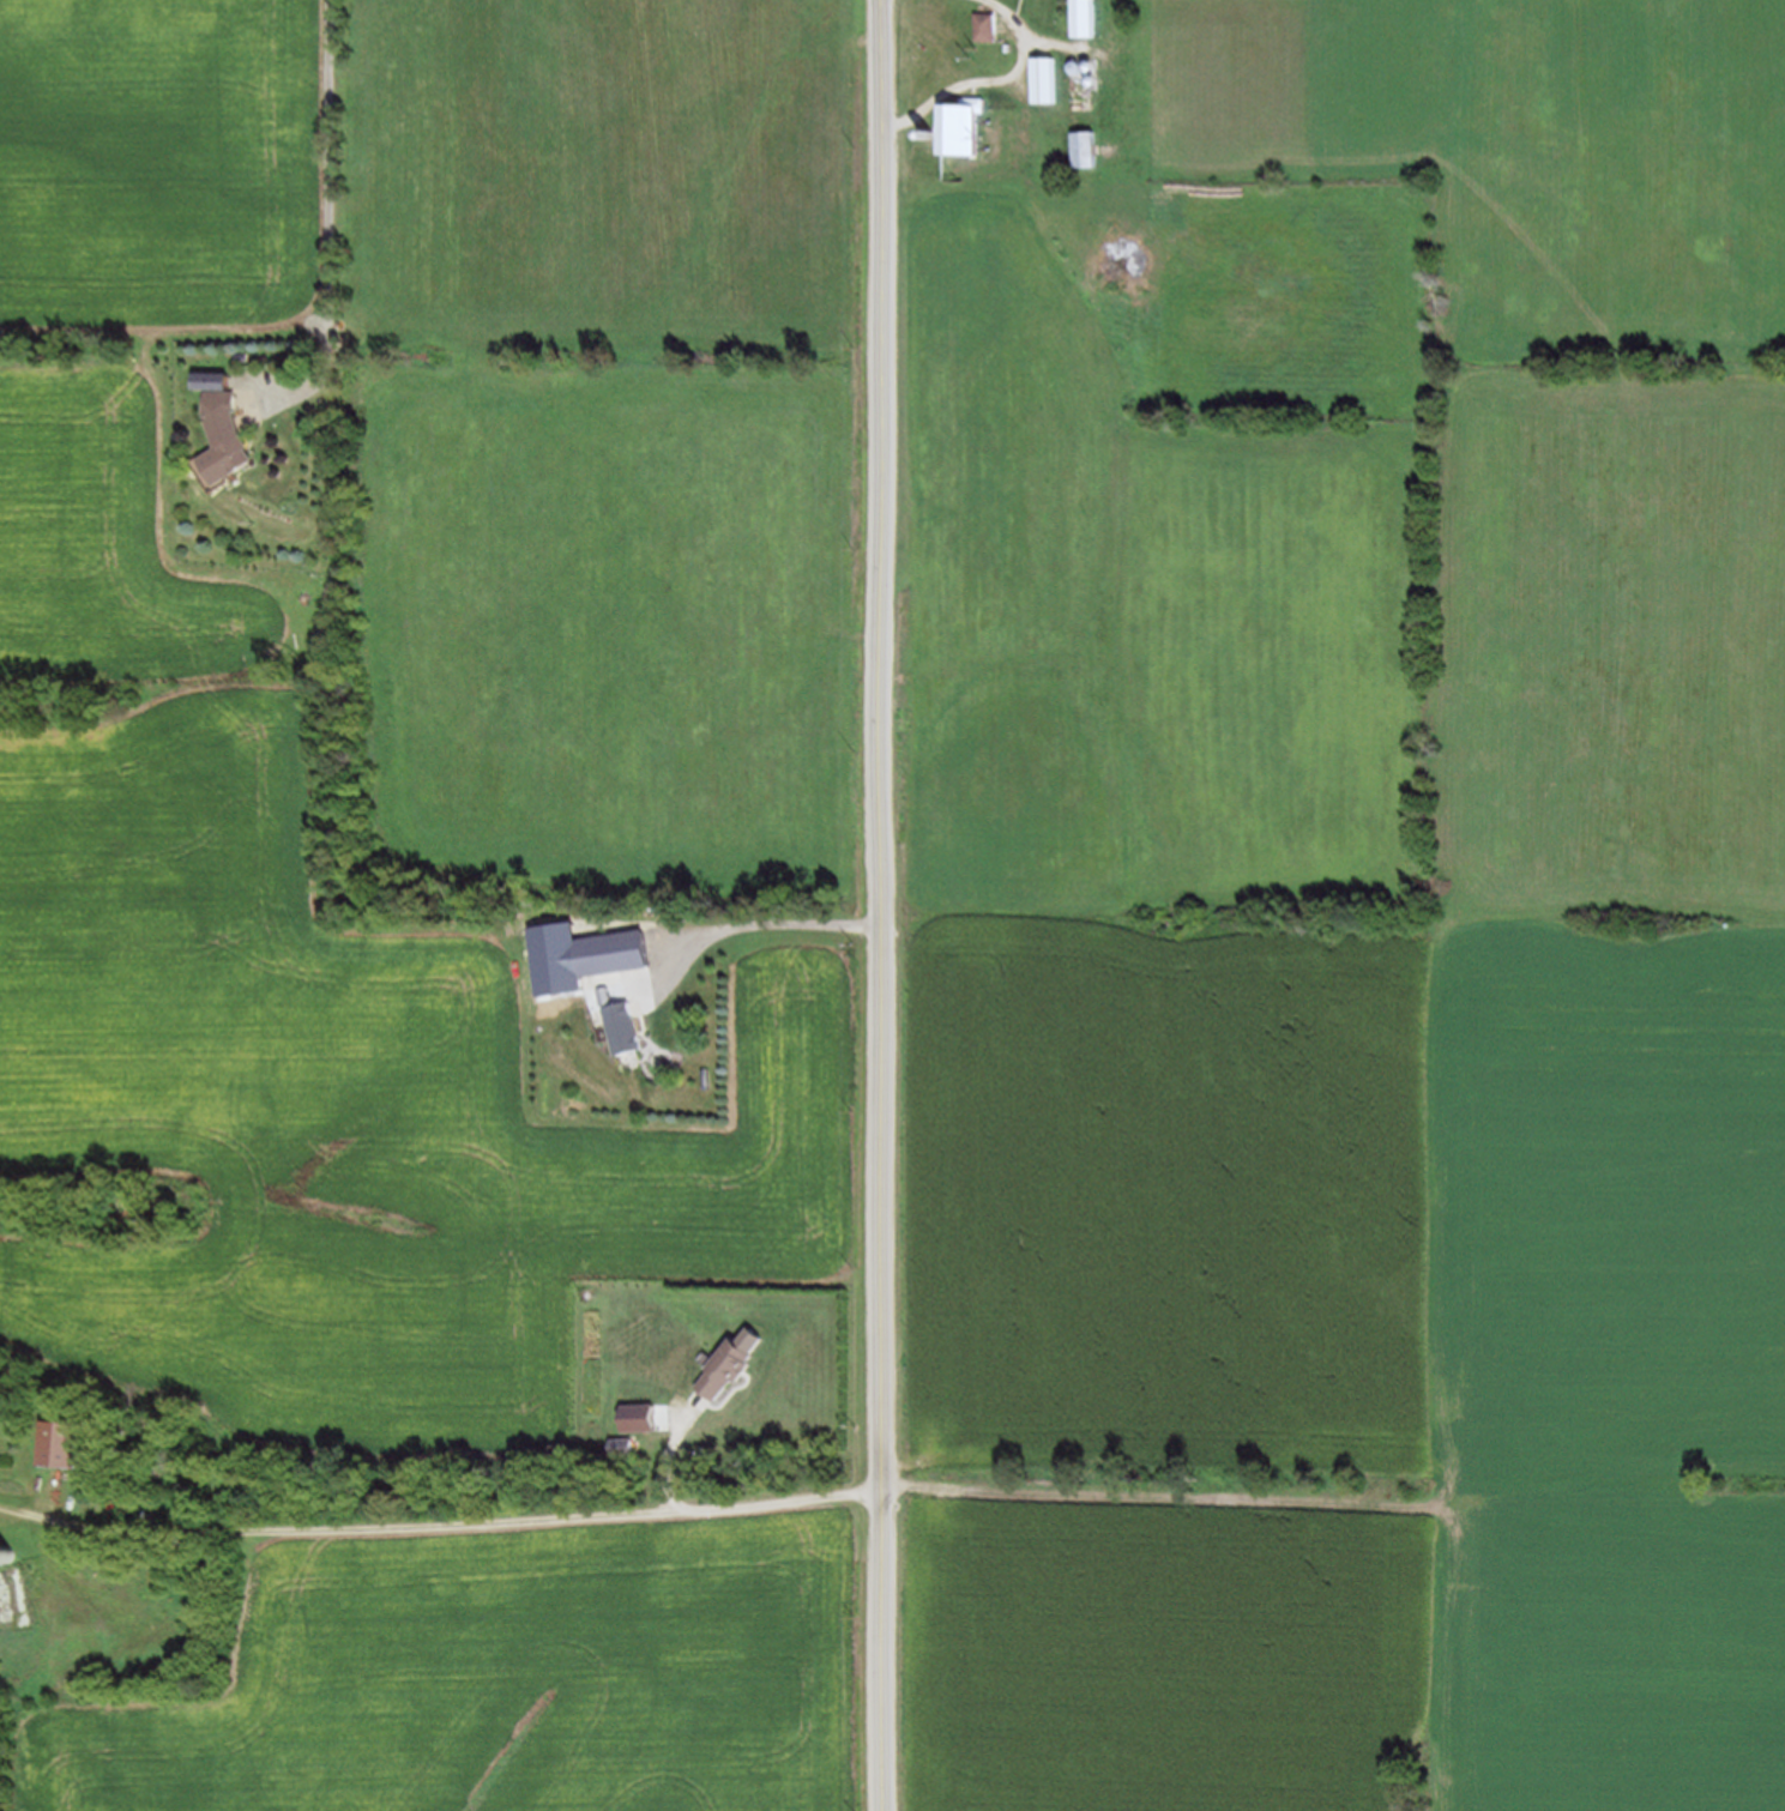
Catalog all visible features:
building: (1090, 17)
building: (984, 25)
building: (1048, 79)
road: (994, 84)
building: (970, 126)
building: (1089, 147)
road: (328, 213)
building: (234, 429)
road: (888, 905)
road: (758, 924)
building: (628, 1039)
building: (728, 1369)
building: (66, 1438)
building: (623, 1443)
road: (670, 1448)
road: (1151, 1495)
road: (466, 1519)

